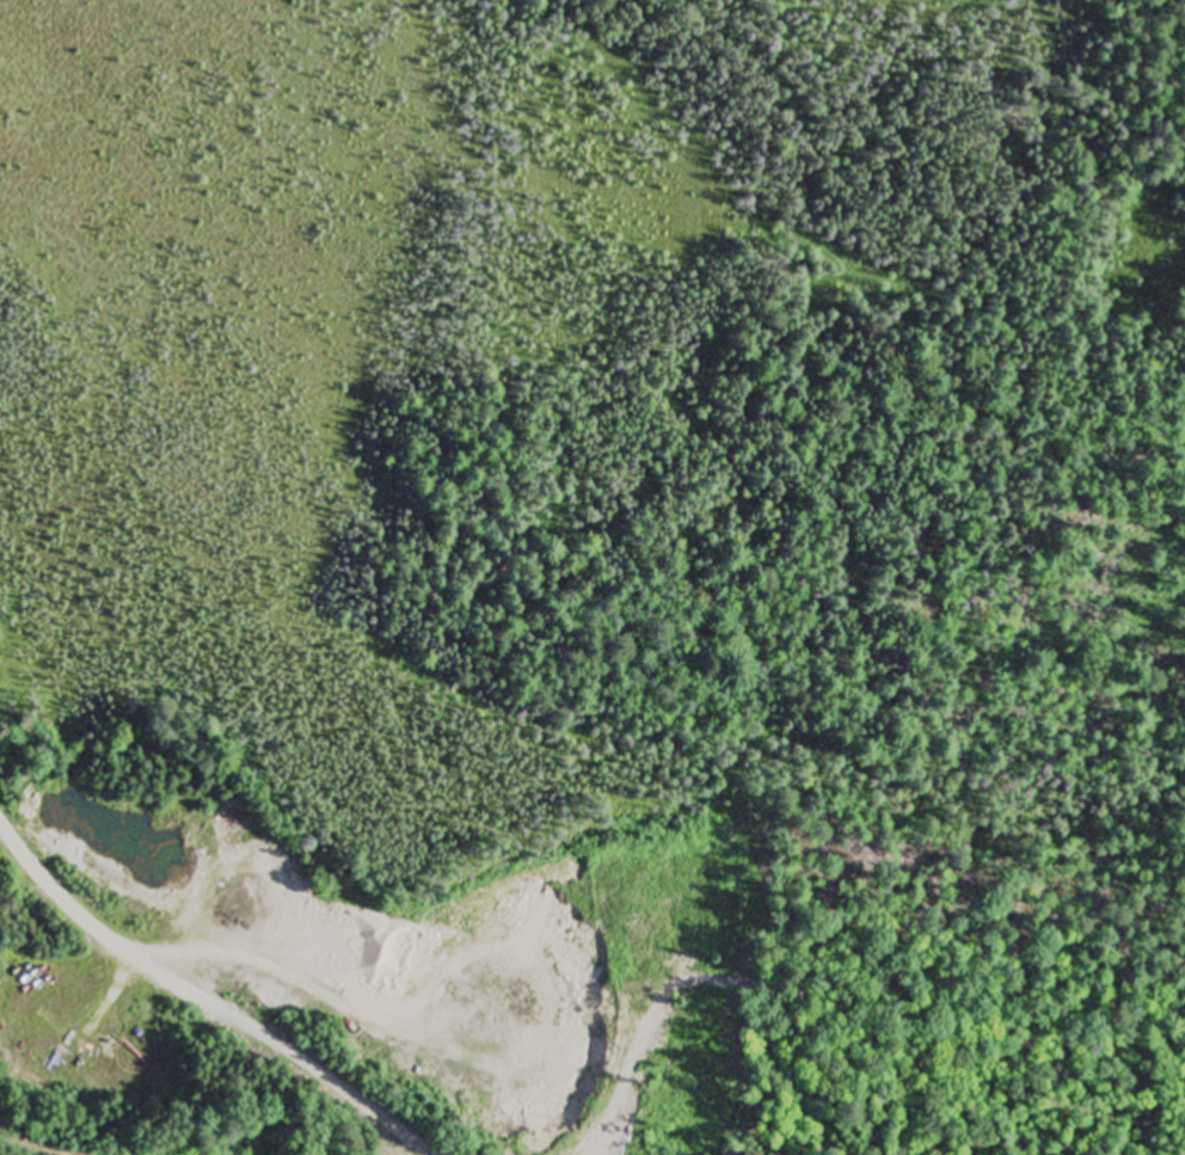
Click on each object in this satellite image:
road: (205, 1007)

